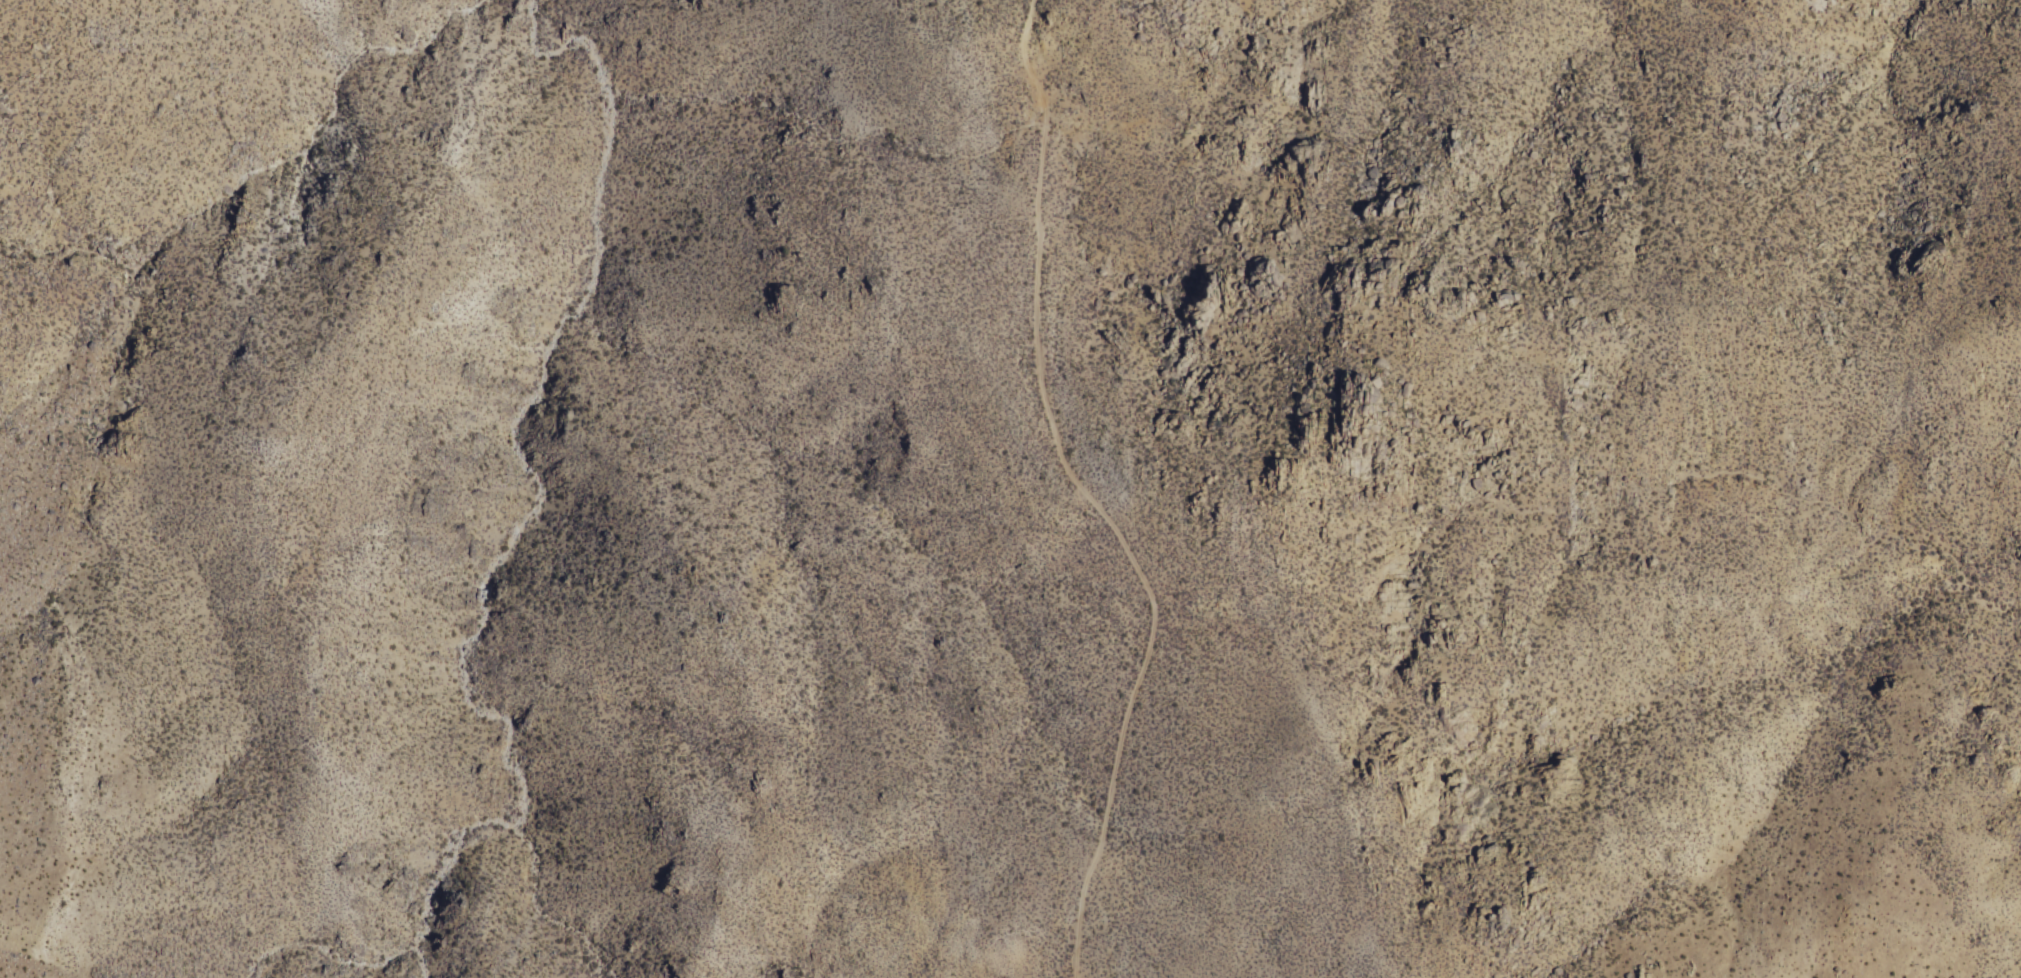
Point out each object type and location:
road: (1082, 493)

